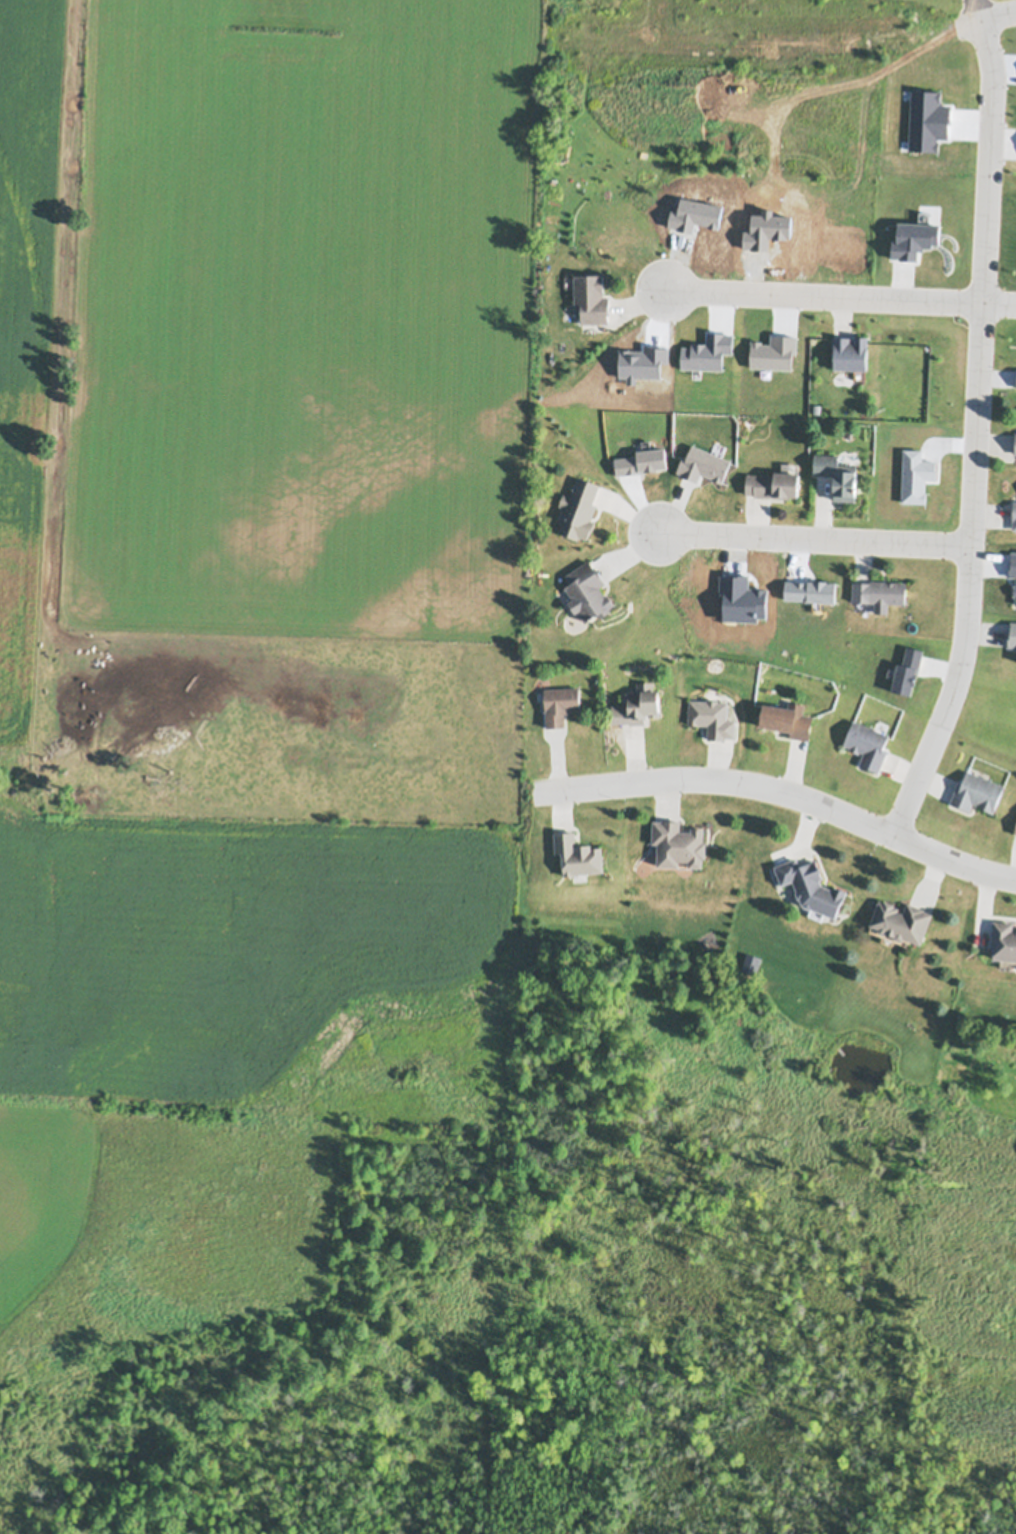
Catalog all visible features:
road: (981, 8)
road: (999, 13)
road: (842, 298)
building: (590, 299)
building: (851, 355)
road: (977, 431)
building: (1015, 433)
building: (1015, 447)
building: (837, 476)
building: (772, 486)
building: (579, 510)
building: (1014, 515)
road: (815, 537)
building: (588, 594)
building: (879, 594)
crop: (242, 610)
building: (1012, 636)
building: (561, 705)
building: (637, 706)
building: (711, 718)
building: (786, 720)
building: (867, 744)
road: (776, 790)
building: (977, 792)
building: (1015, 830)
building: (1015, 834)
building: (679, 846)
building: (578, 857)
building: (811, 888)
building: (901, 923)
building: (1004, 942)
building: (751, 964)

